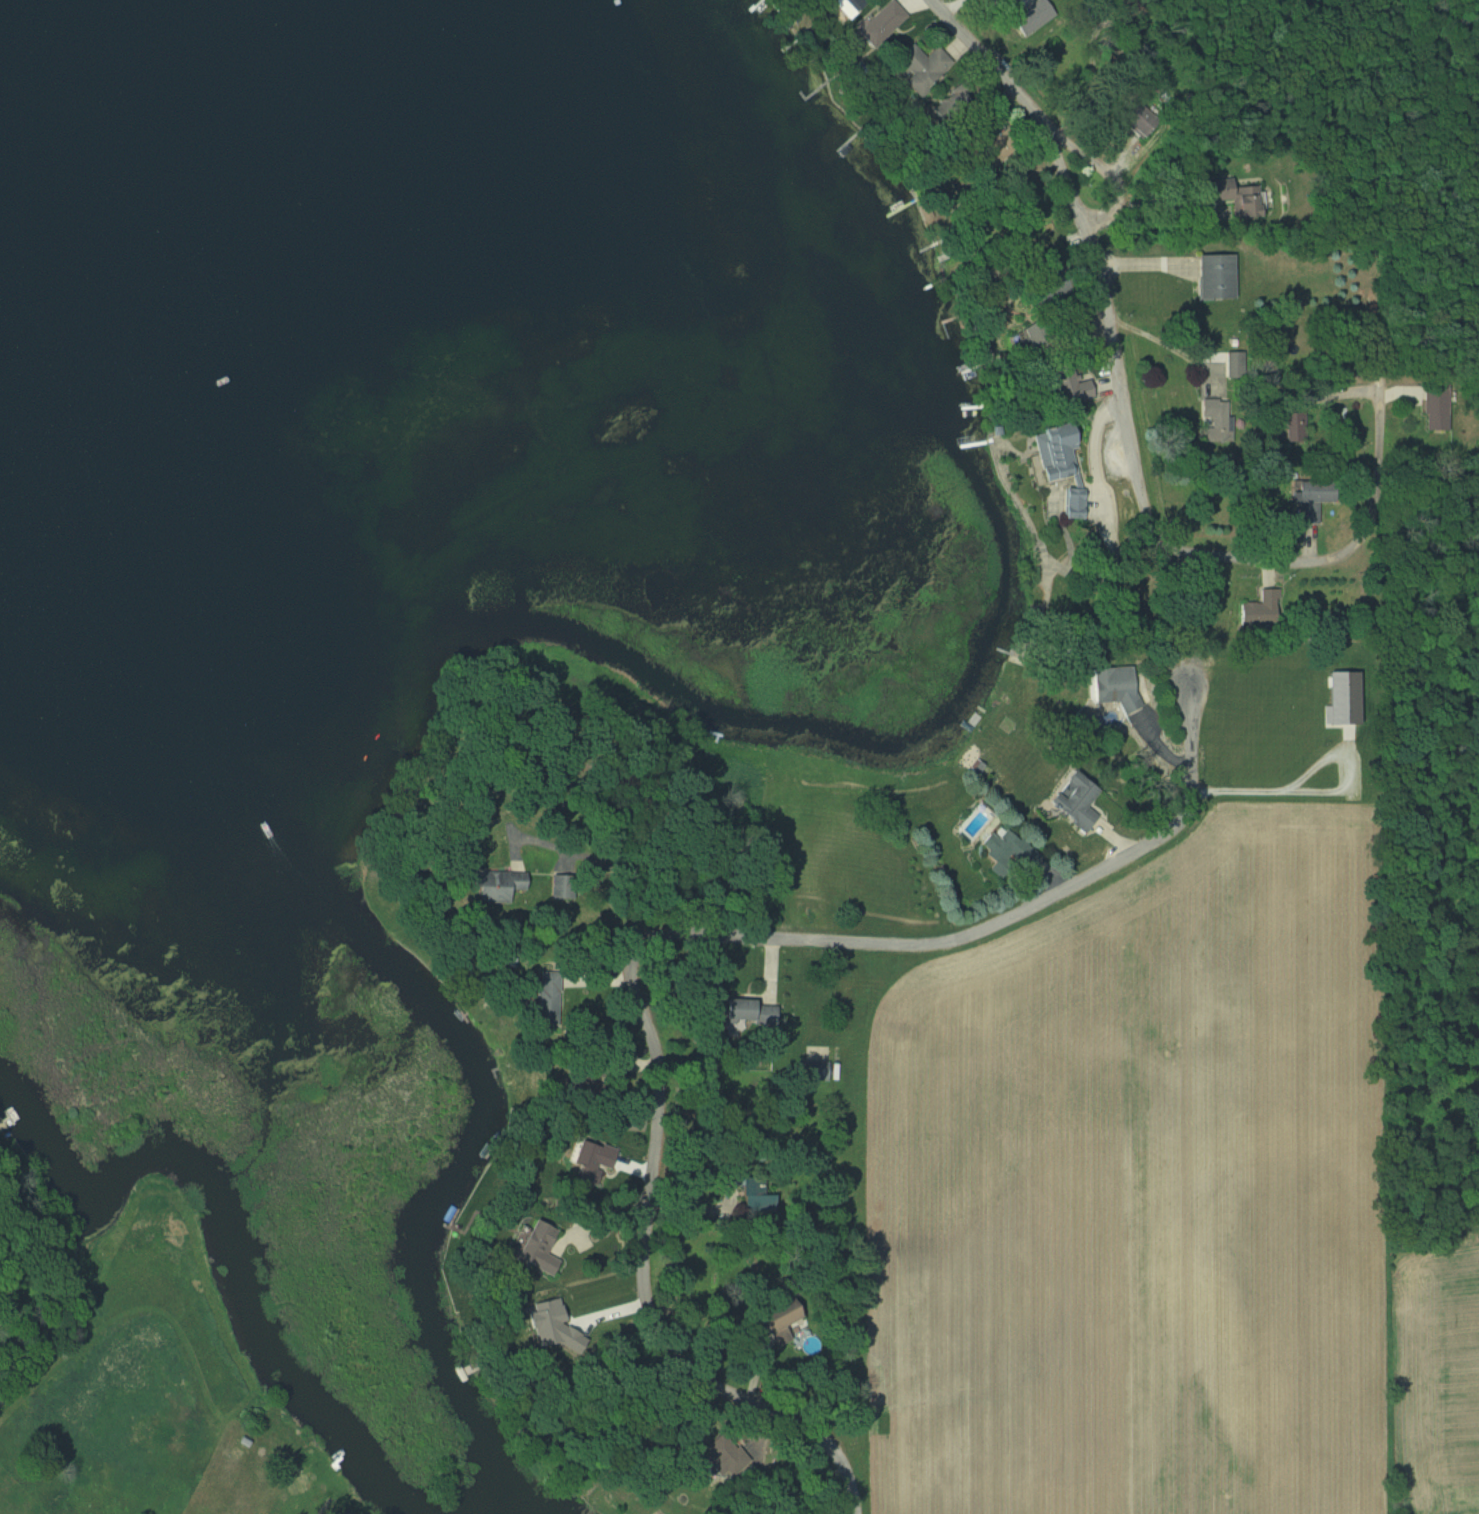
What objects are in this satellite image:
building: (845, 6)
building: (1029, 14)
building: (879, 23)
building: (915, 70)
building: (1138, 119)
road: (1040, 121)
road: (1063, 175)
building: (1236, 197)
building: (1214, 278)
road: (1168, 346)
building: (1435, 407)
building: (1216, 420)
building: (1286, 429)
building: (1058, 464)
road: (1176, 550)
building: (1259, 606)
building: (1113, 685)
road: (1317, 795)
building: (1074, 803)
building: (1004, 849)
road: (603, 865)
building: (495, 885)
road: (649, 940)
building: (544, 989)
building: (739, 1012)
building: (812, 1070)
building: (587, 1160)
building: (740, 1180)
building: (535, 1247)
building: (776, 1320)
building: (714, 1453)

